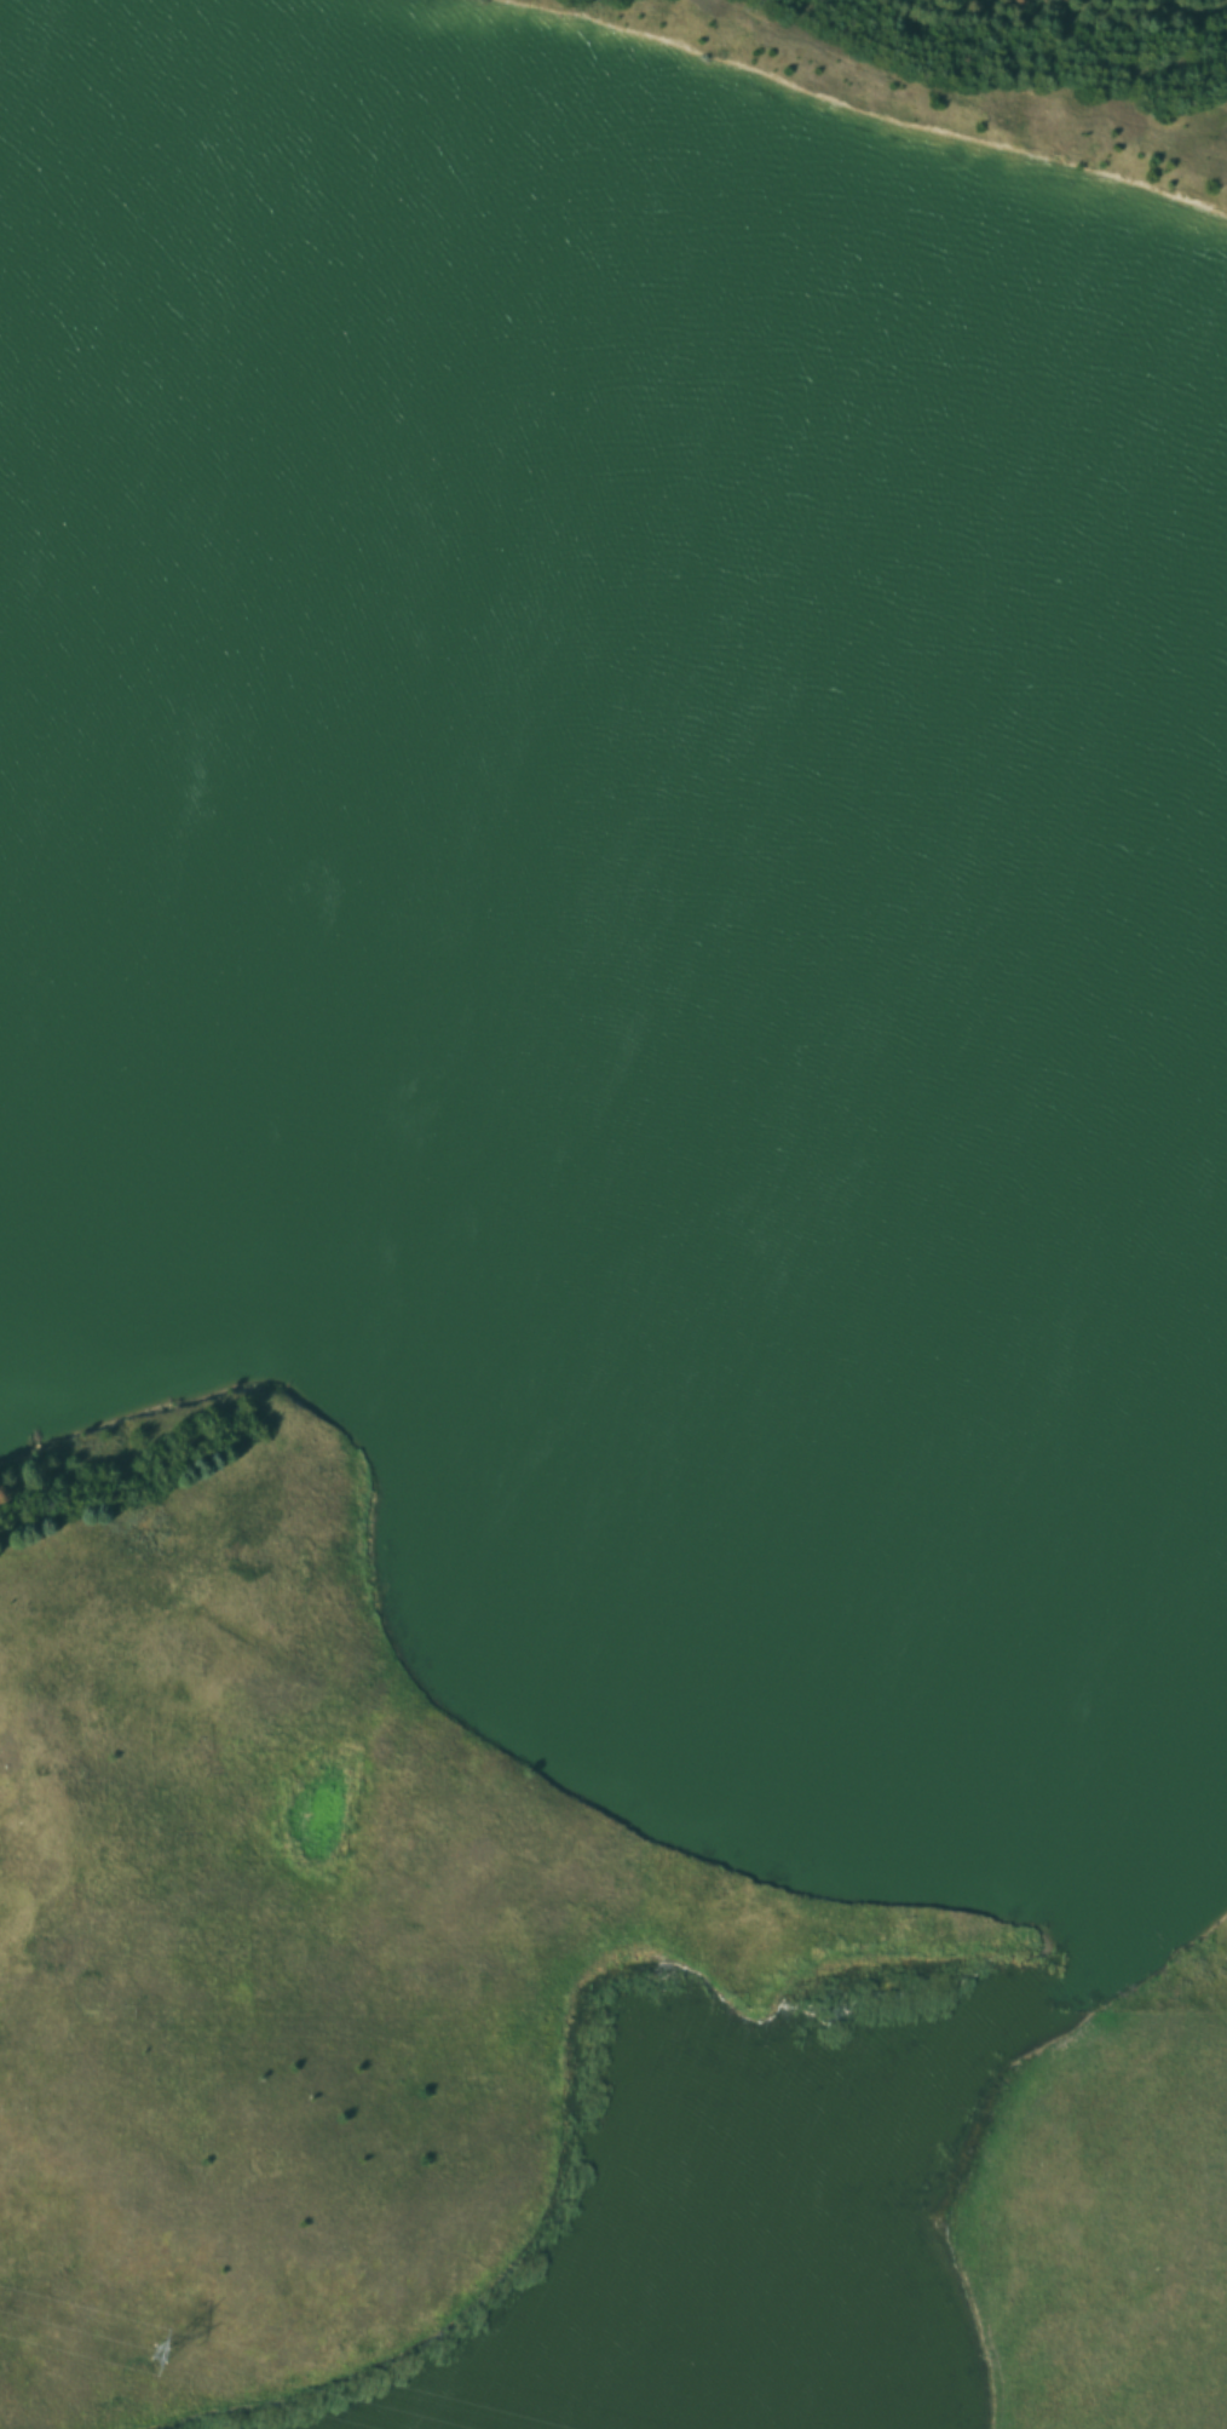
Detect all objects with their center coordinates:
power tower: (173, 2353)

